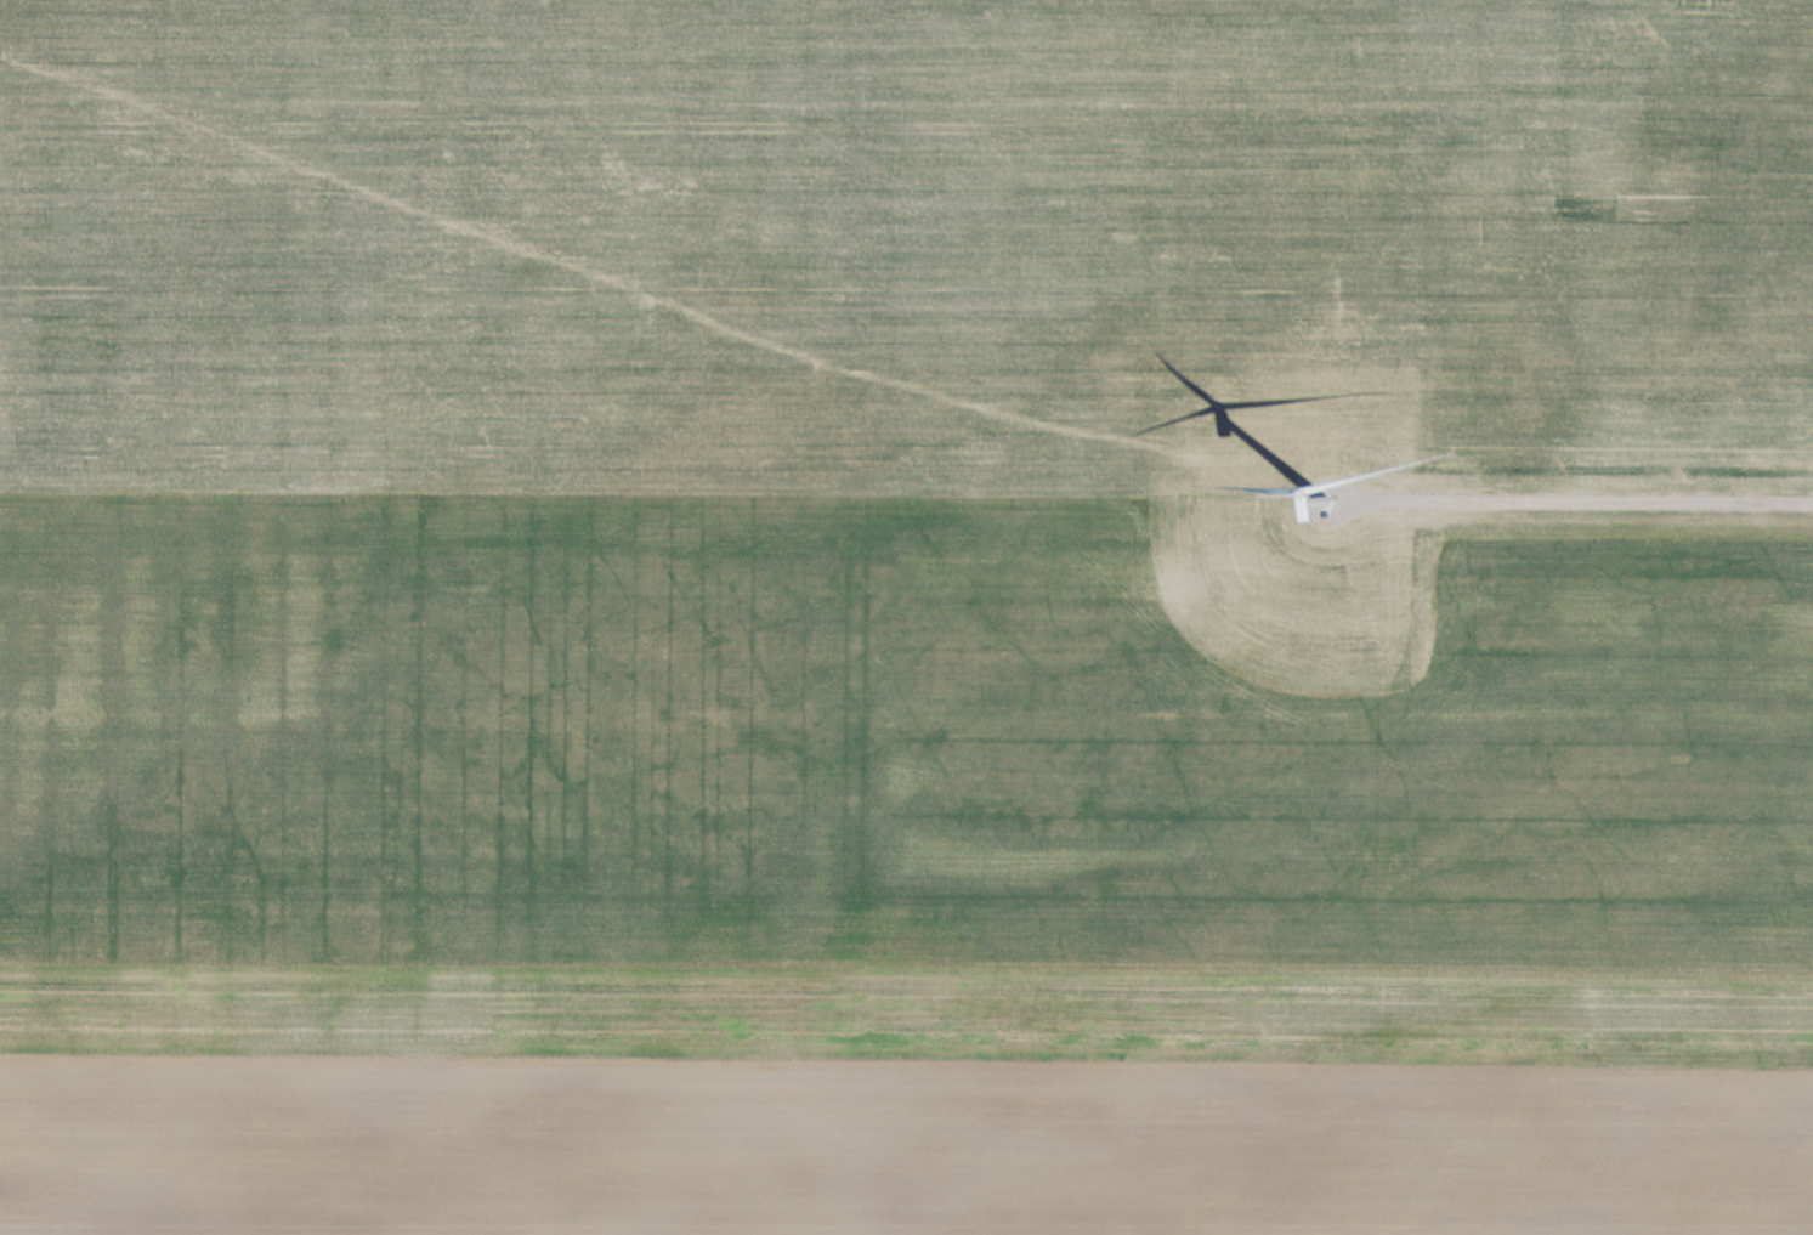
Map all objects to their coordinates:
wind turbine: (1321, 500)

